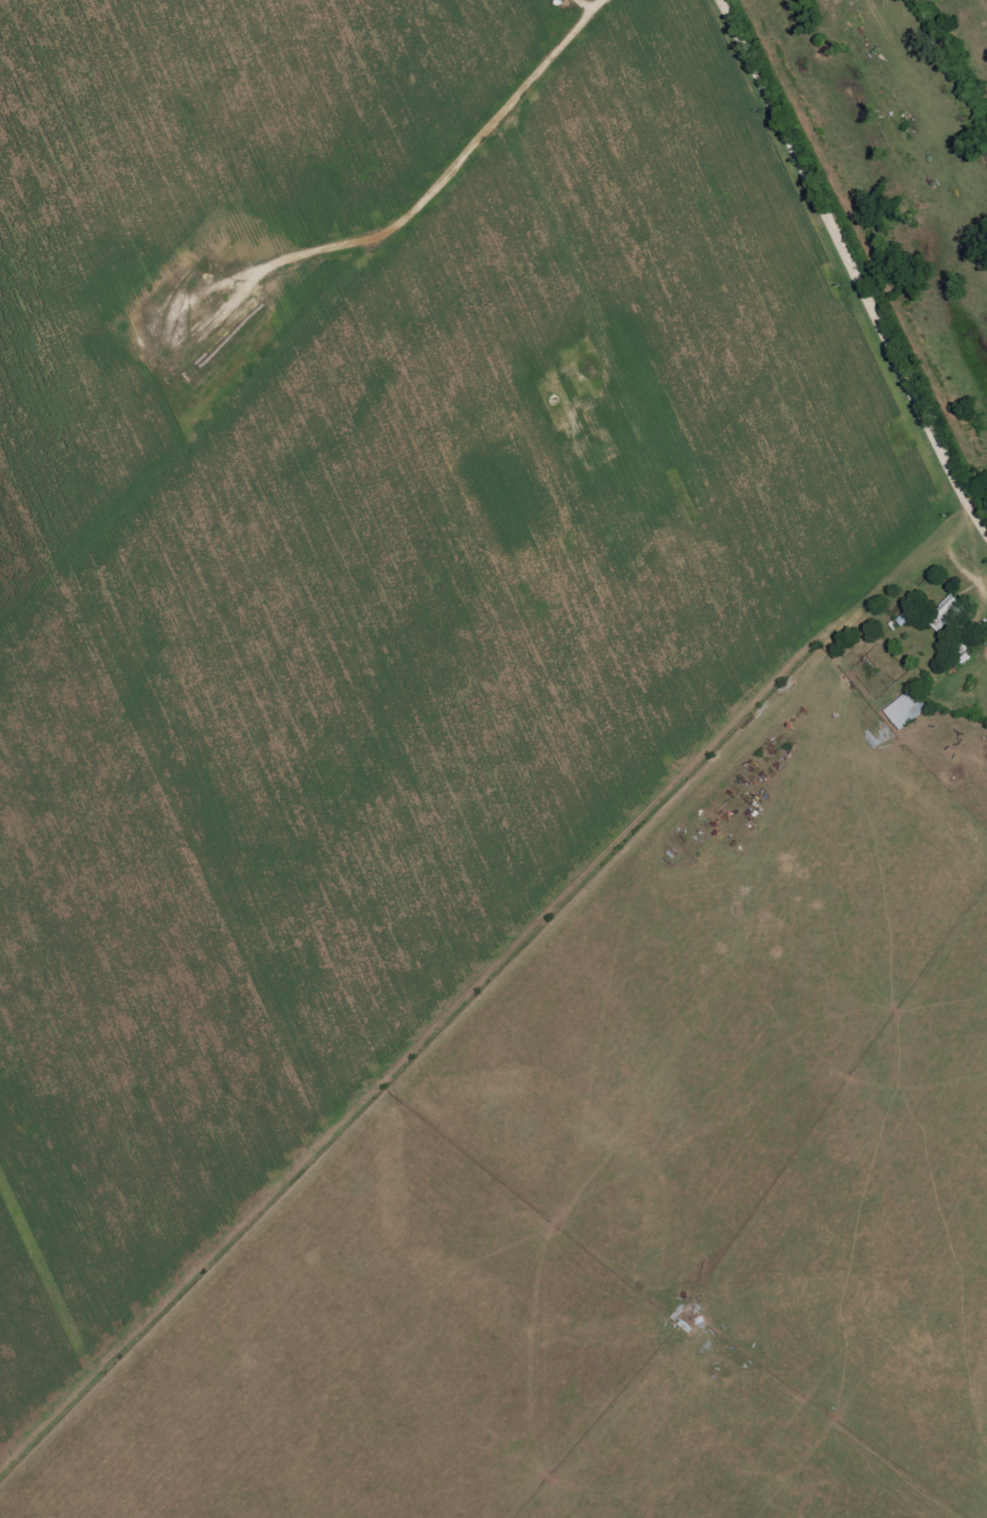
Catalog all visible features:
road: (855, 281)
building: (947, 614)
building: (908, 710)

